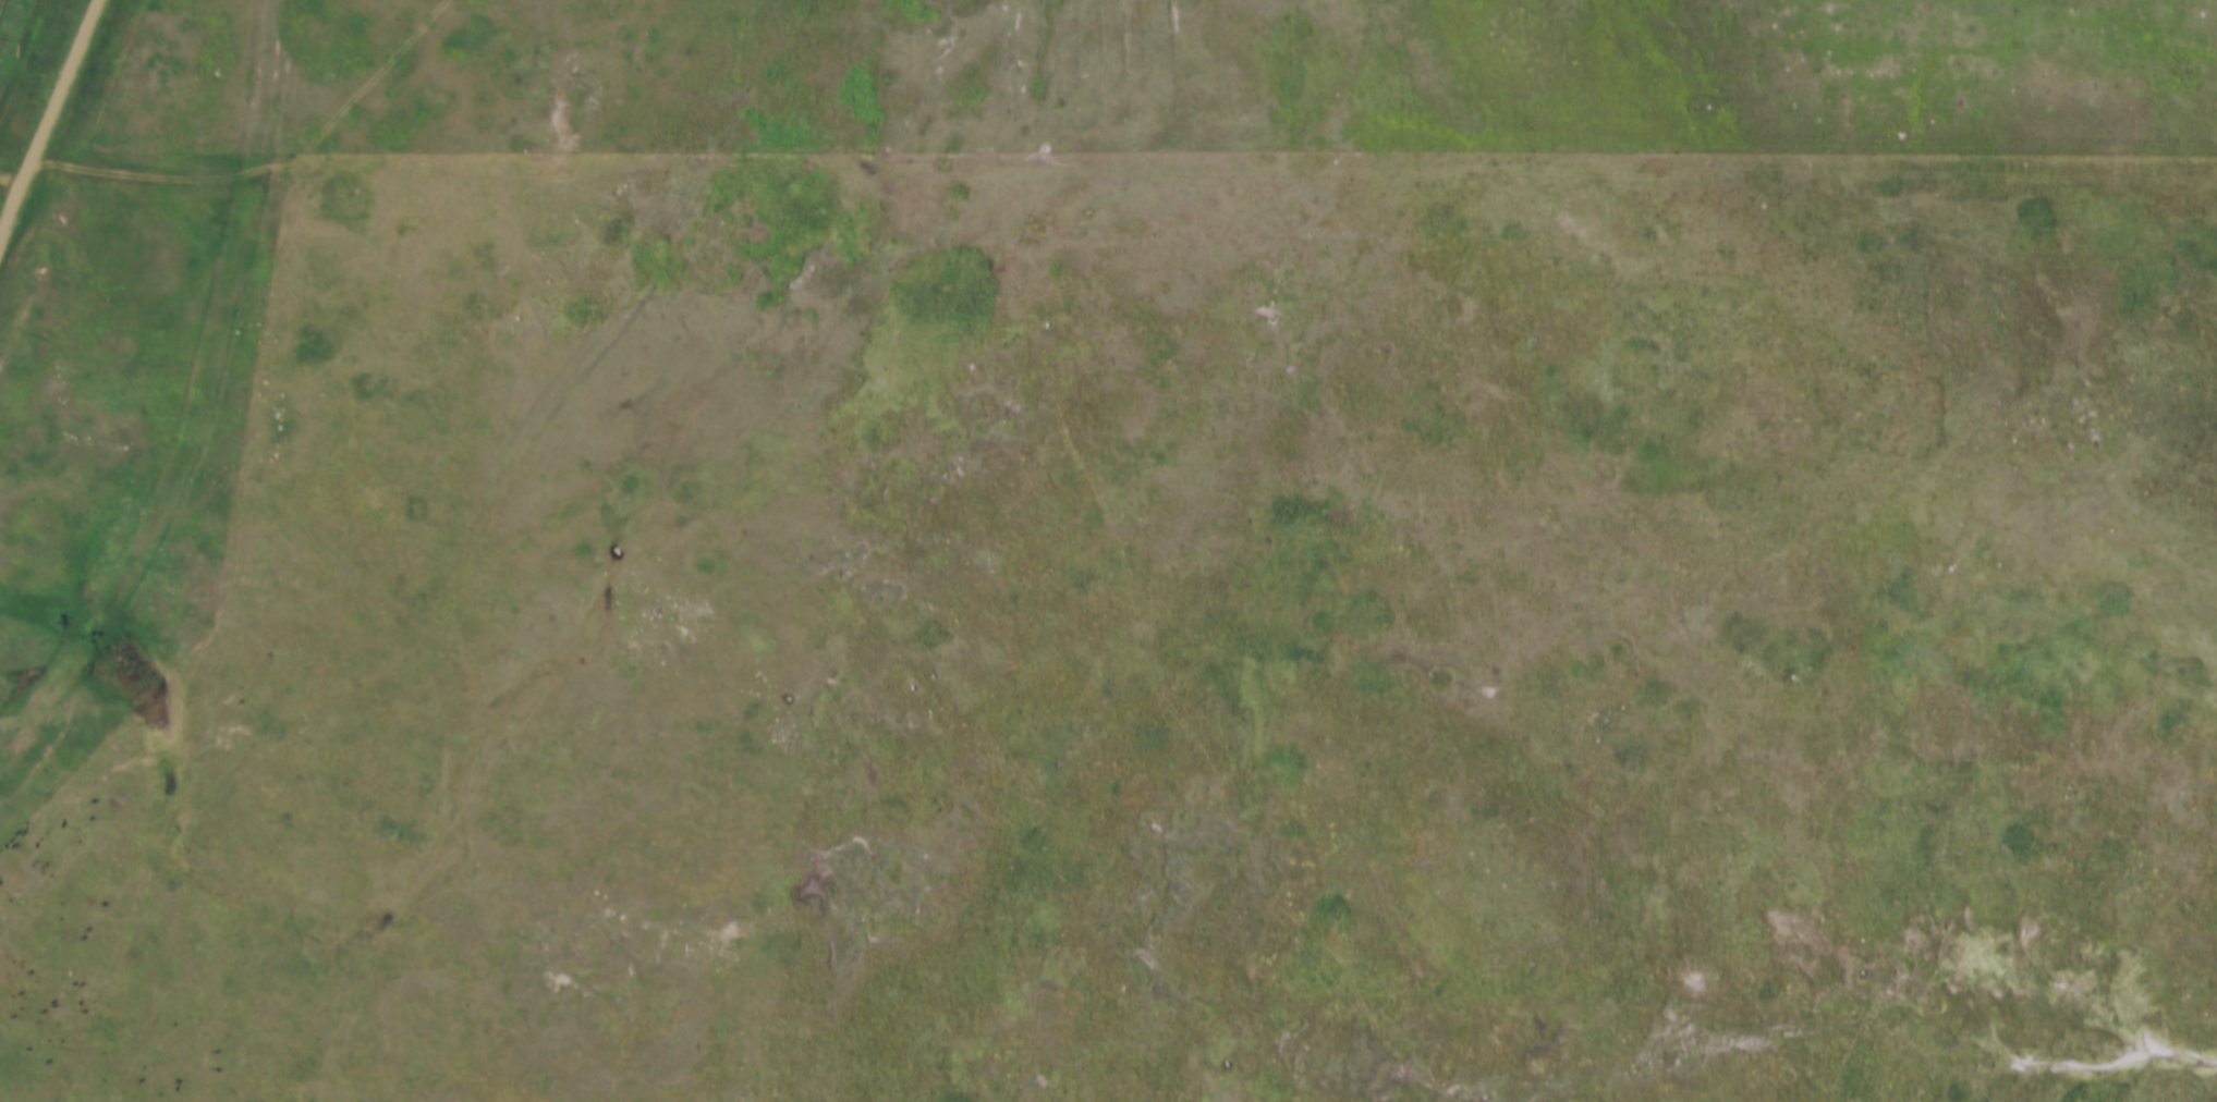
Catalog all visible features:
road: (48, 120)

